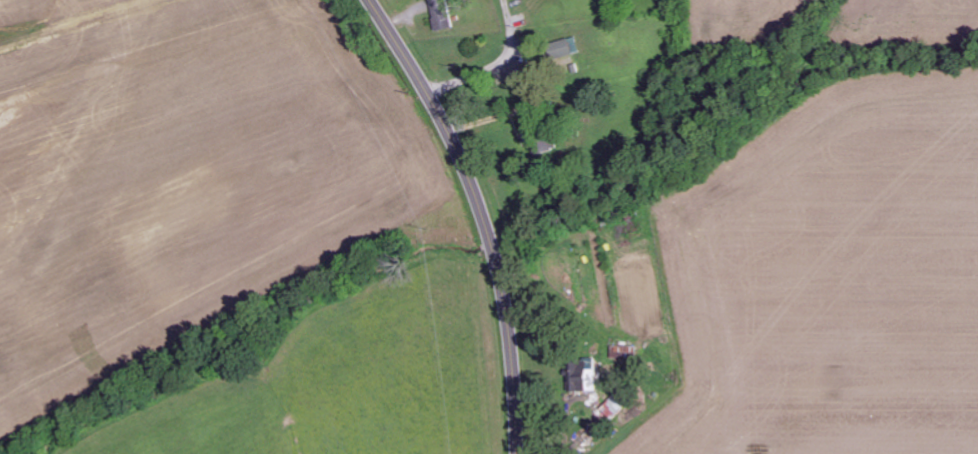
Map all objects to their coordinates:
building: (440, 14)
building: (563, 48)
road: (481, 214)
building: (623, 352)
building: (583, 375)
building: (613, 407)

